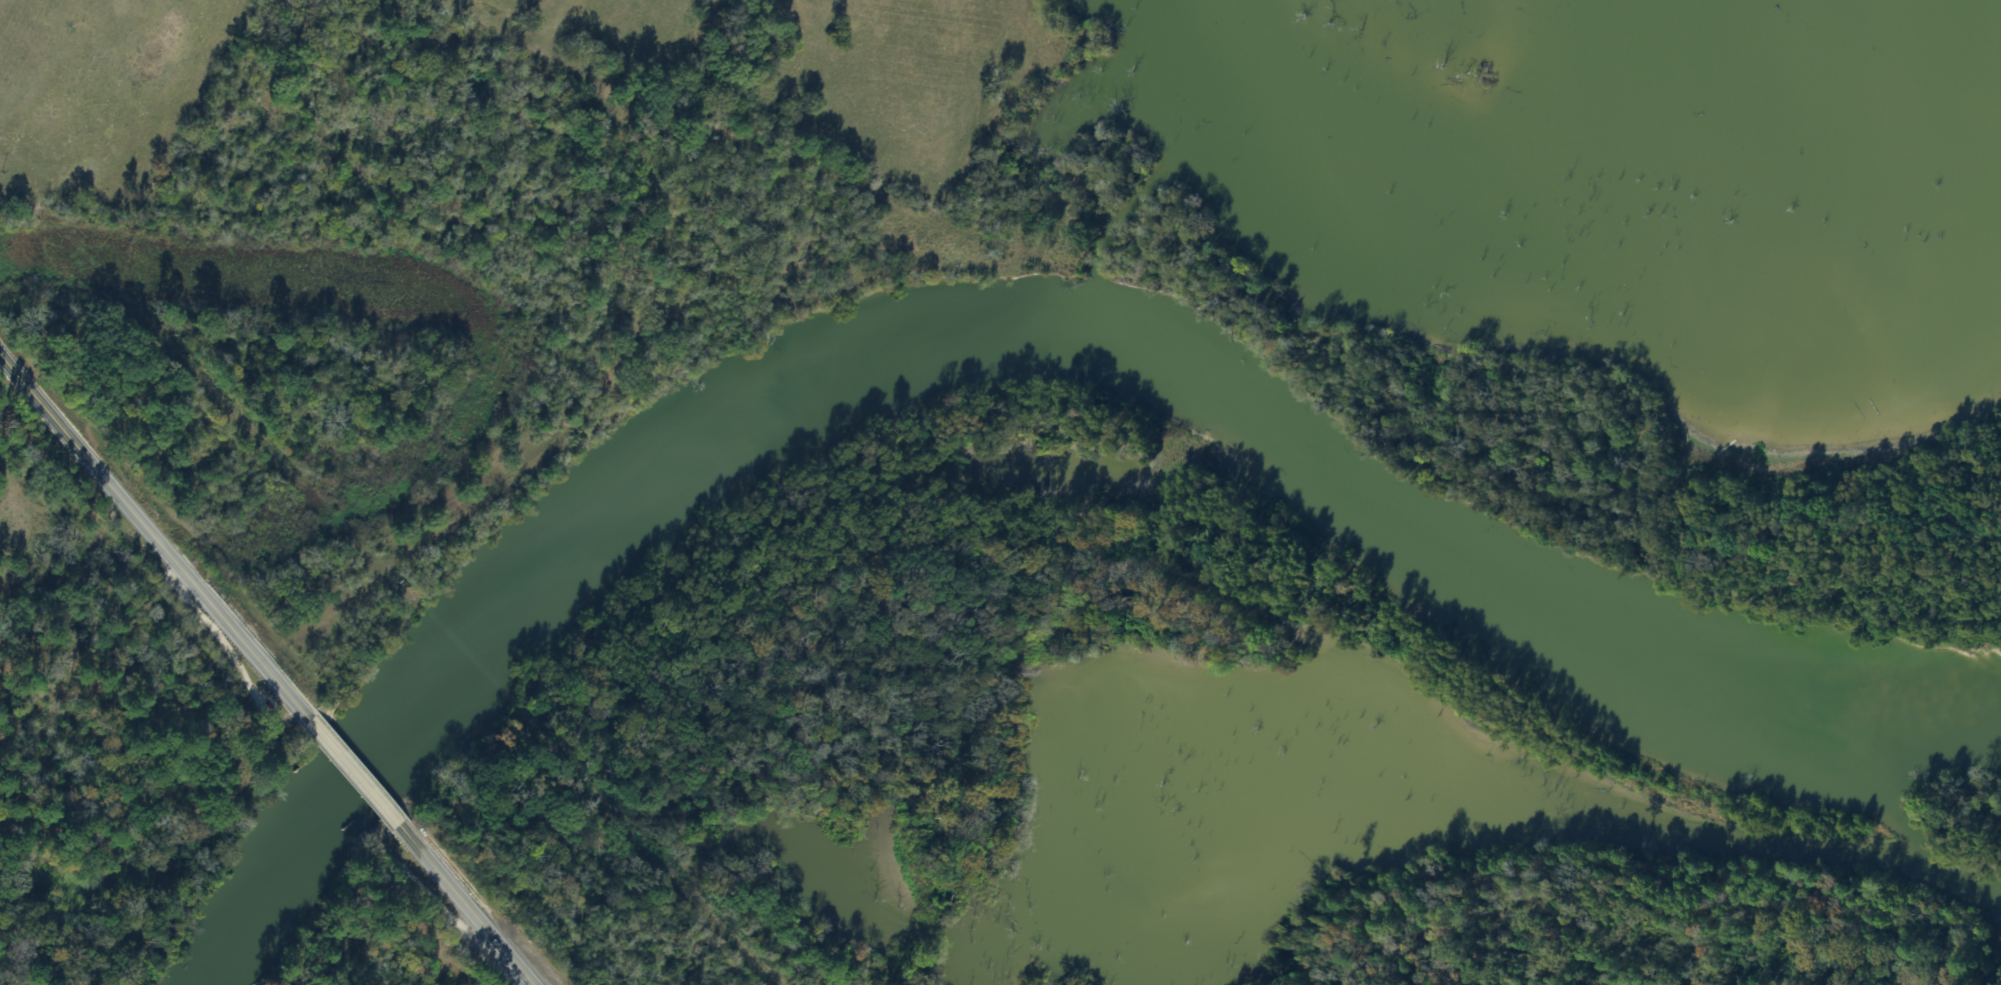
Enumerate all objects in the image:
road: (154, 536)
road: (353, 771)
road: (465, 904)

